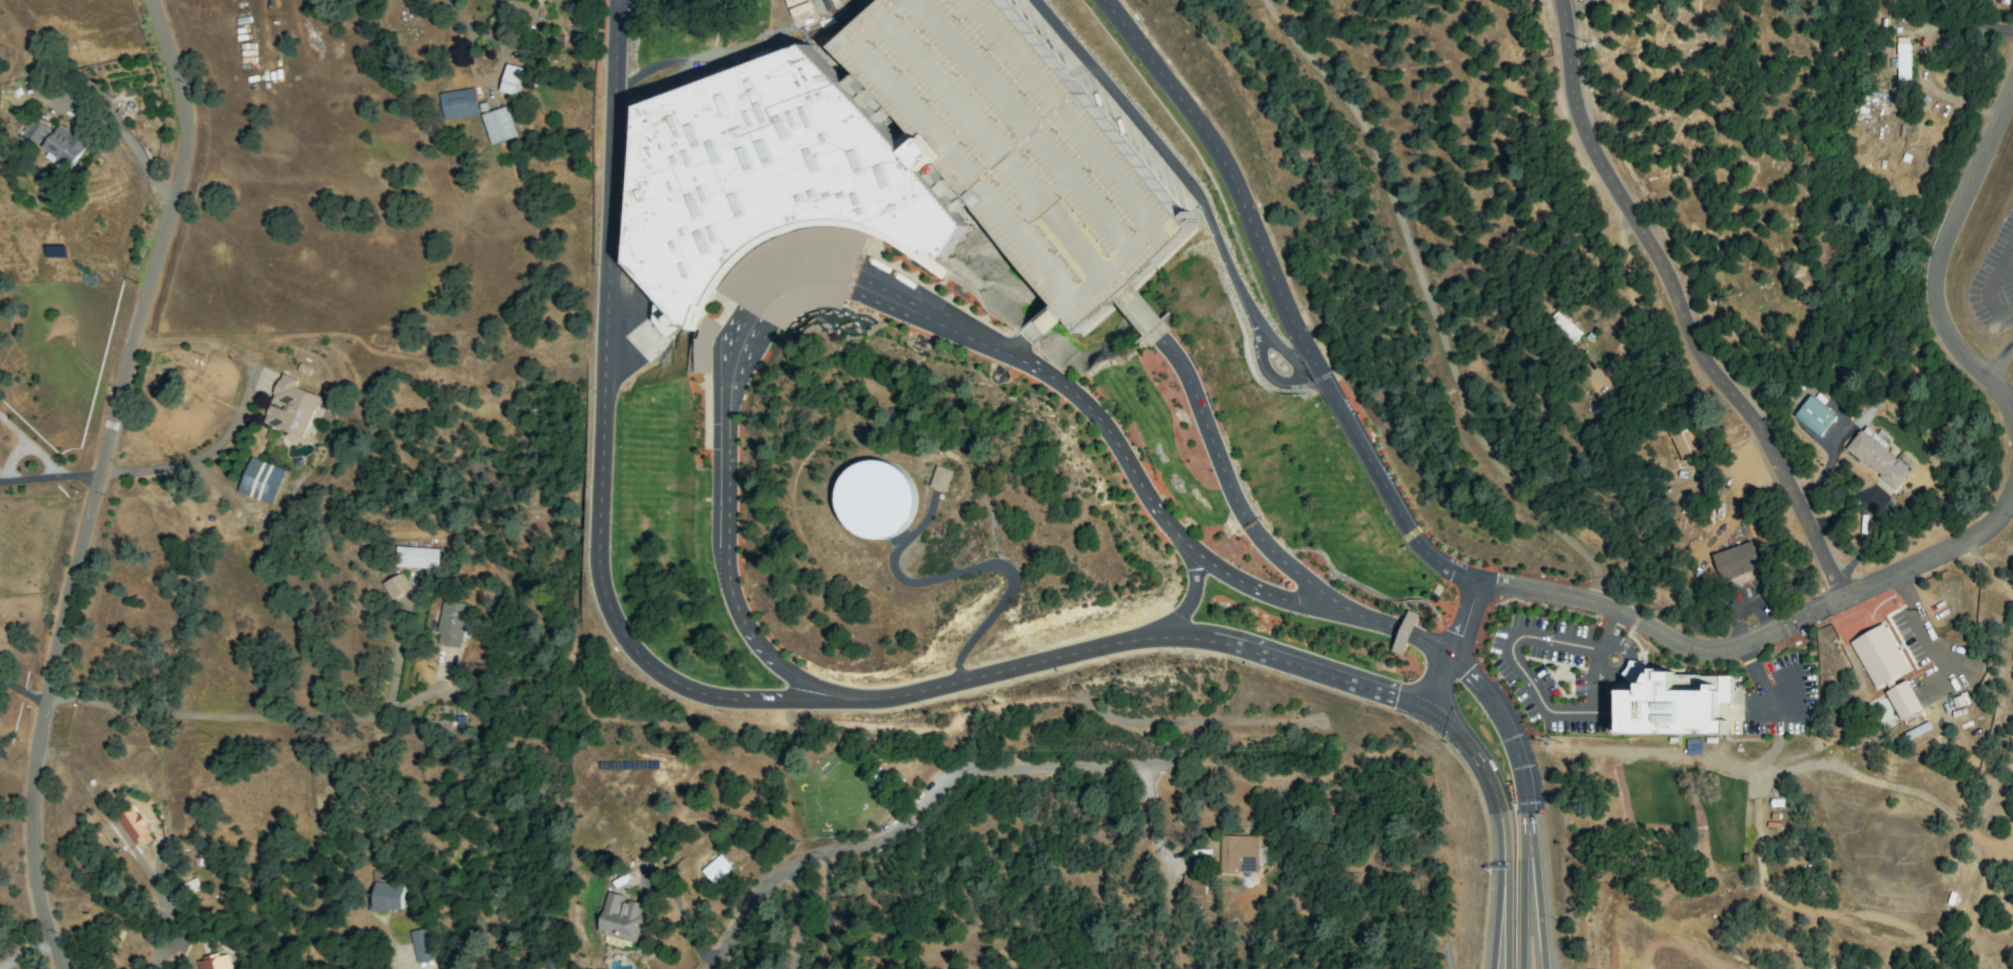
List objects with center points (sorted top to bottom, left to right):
building: (801, 11)
road: (1967, 26)
building: (1901, 59)
road: (649, 69)
building: (509, 79)
building: (458, 104)
road: (1026, 124)
building: (498, 125)
road: (976, 127)
building: (54, 143)
road: (132, 143)
building: (1026, 143)
parking lot: (1026, 143)
building: (772, 173)
road: (1068, 176)
road: (1198, 199)
road: (1073, 244)
road: (1941, 254)
road: (2009, 271)
road: (1990, 286)
road: (883, 291)
road: (1630, 293)
road: (1075, 300)
road: (1136, 303)
road: (1430, 306)
road: (1682, 308)
road: (1284, 352)
road: (1995, 356)
building: (193, 387)
road: (241, 401)
building: (290, 407)
building: (1813, 416)
building: (1877, 459)
road: (50, 478)
building: (946, 478)
road: (100, 481)
building: (260, 481)
building: (882, 499)
water tower: (893, 500)
road: (1433, 554)
building: (416, 557)
road: (976, 569)
building: (396, 586)
road: (1191, 599)
road: (1922, 622)
building: (448, 624)
road: (1612, 627)
building: (1405, 633)
road: (1407, 636)
road: (1562, 640)
road: (1457, 644)
building: (1879, 656)
road: (1599, 680)
road: (1763, 685)
road: (1535, 690)
road: (23, 693)
road: (694, 694)
building: (1902, 700)
building: (1674, 705)
road: (237, 715)
road: (1776, 745)
road: (1687, 753)
road: (1320, 777)
road: (932, 799)
road: (1525, 804)
building: (133, 824)
road: (1501, 826)
building: (1238, 854)
building: (715, 869)
building: (1188, 881)
building: (191, 889)
building: (386, 896)
road: (1527, 905)
road: (157, 911)
road: (803, 912)
building: (619, 917)
road: (1503, 917)
road: (682, 920)
building: (420, 945)
road: (26, 952)
road: (397, 958)
building: (215, 962)

